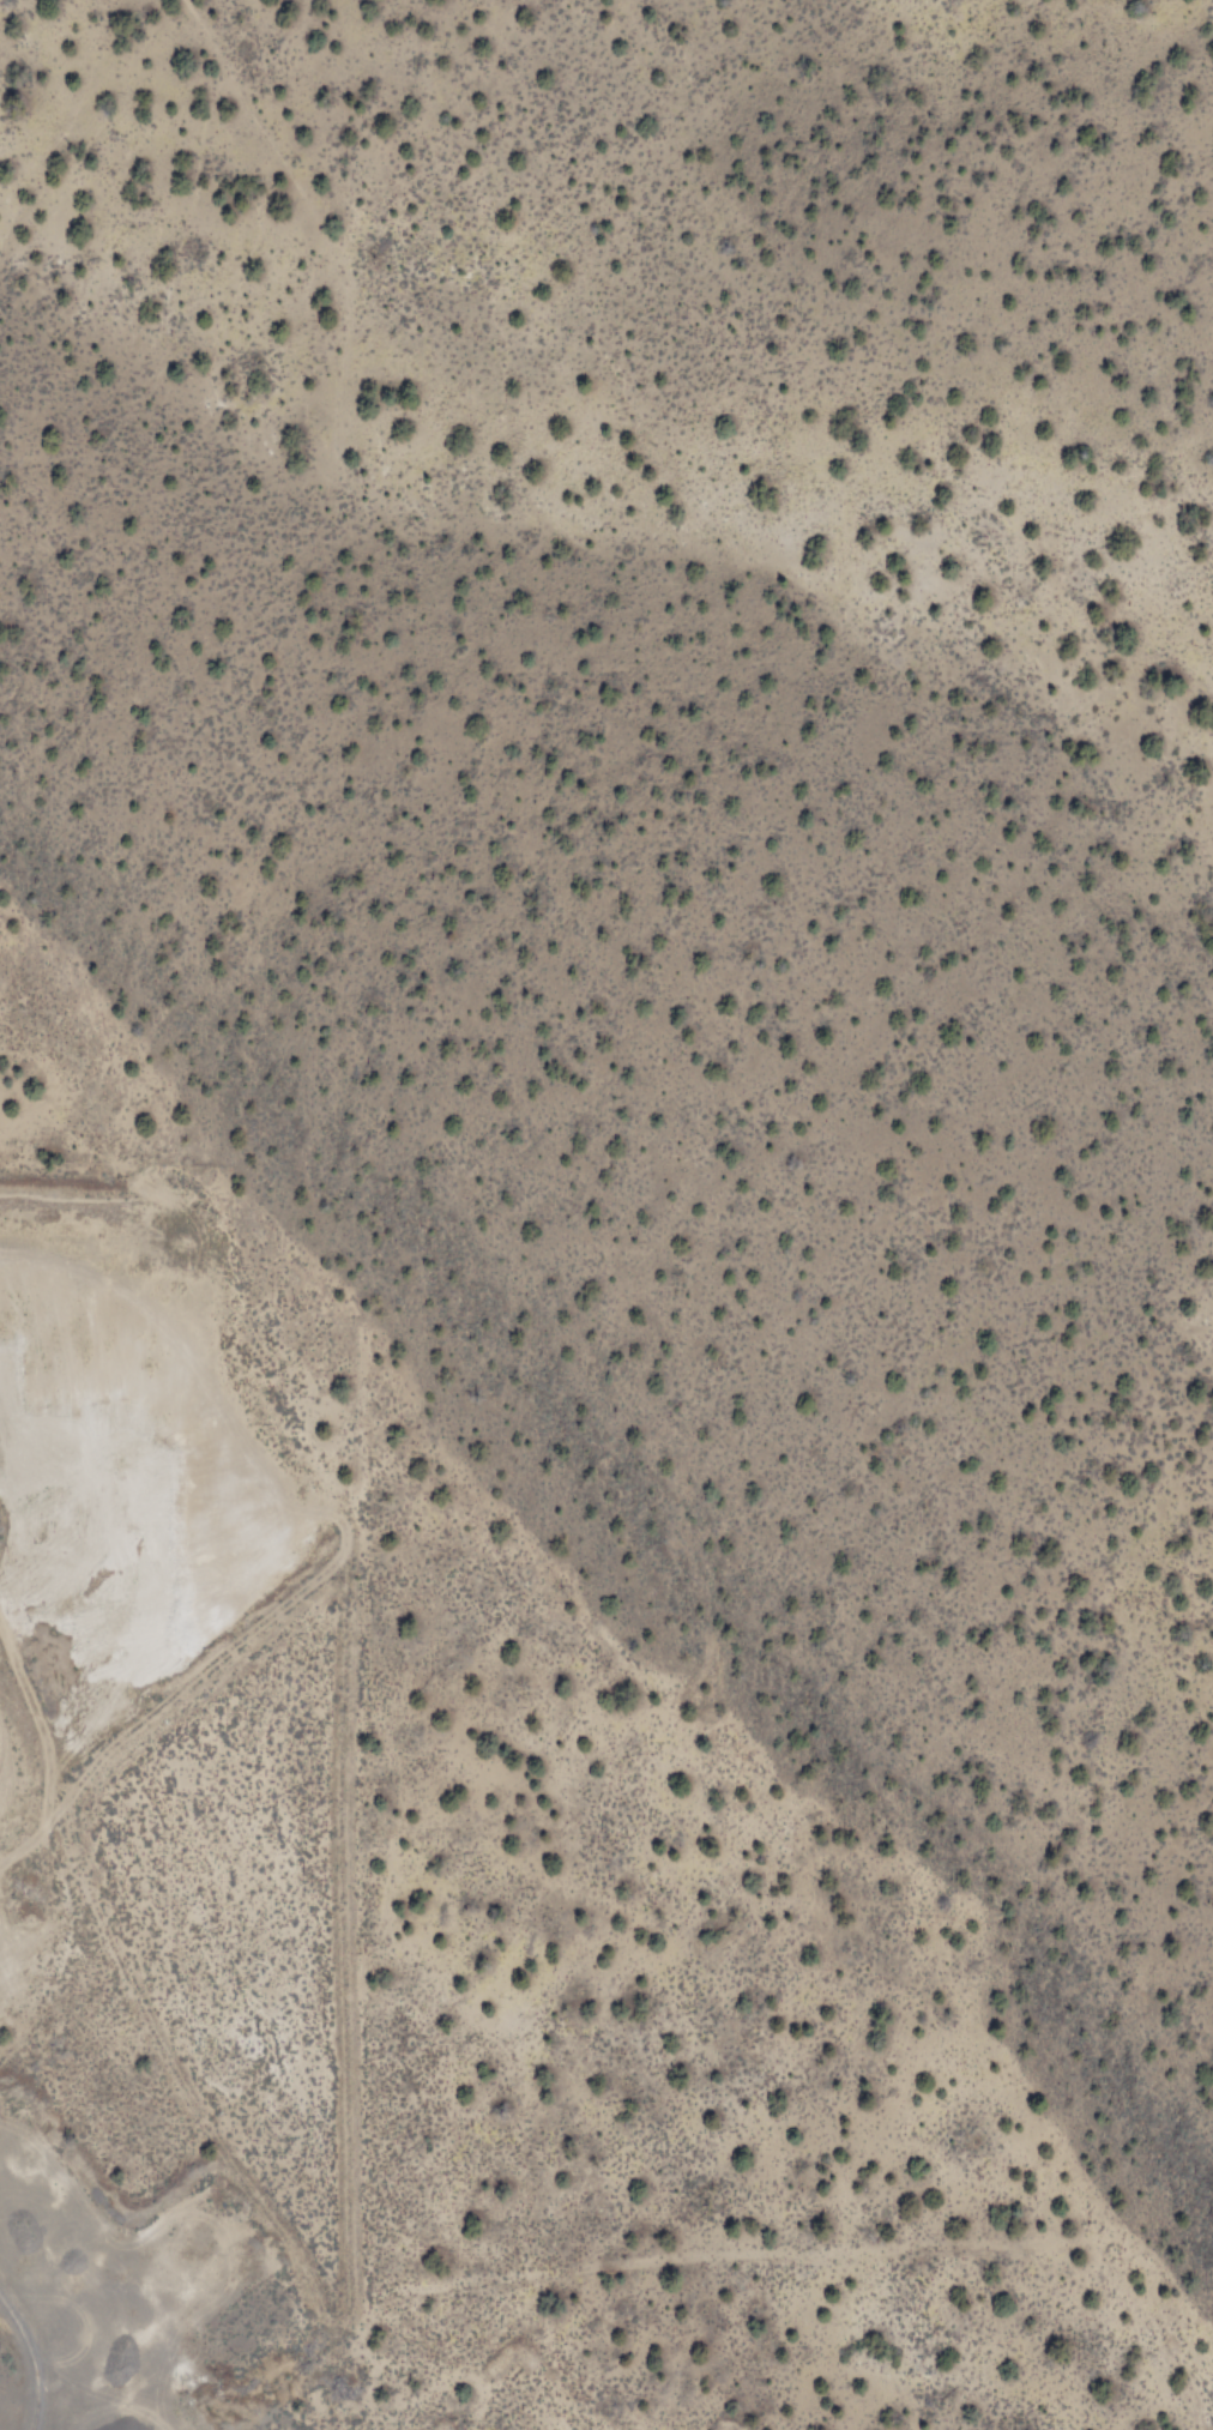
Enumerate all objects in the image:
quarry: (193, 1846)

